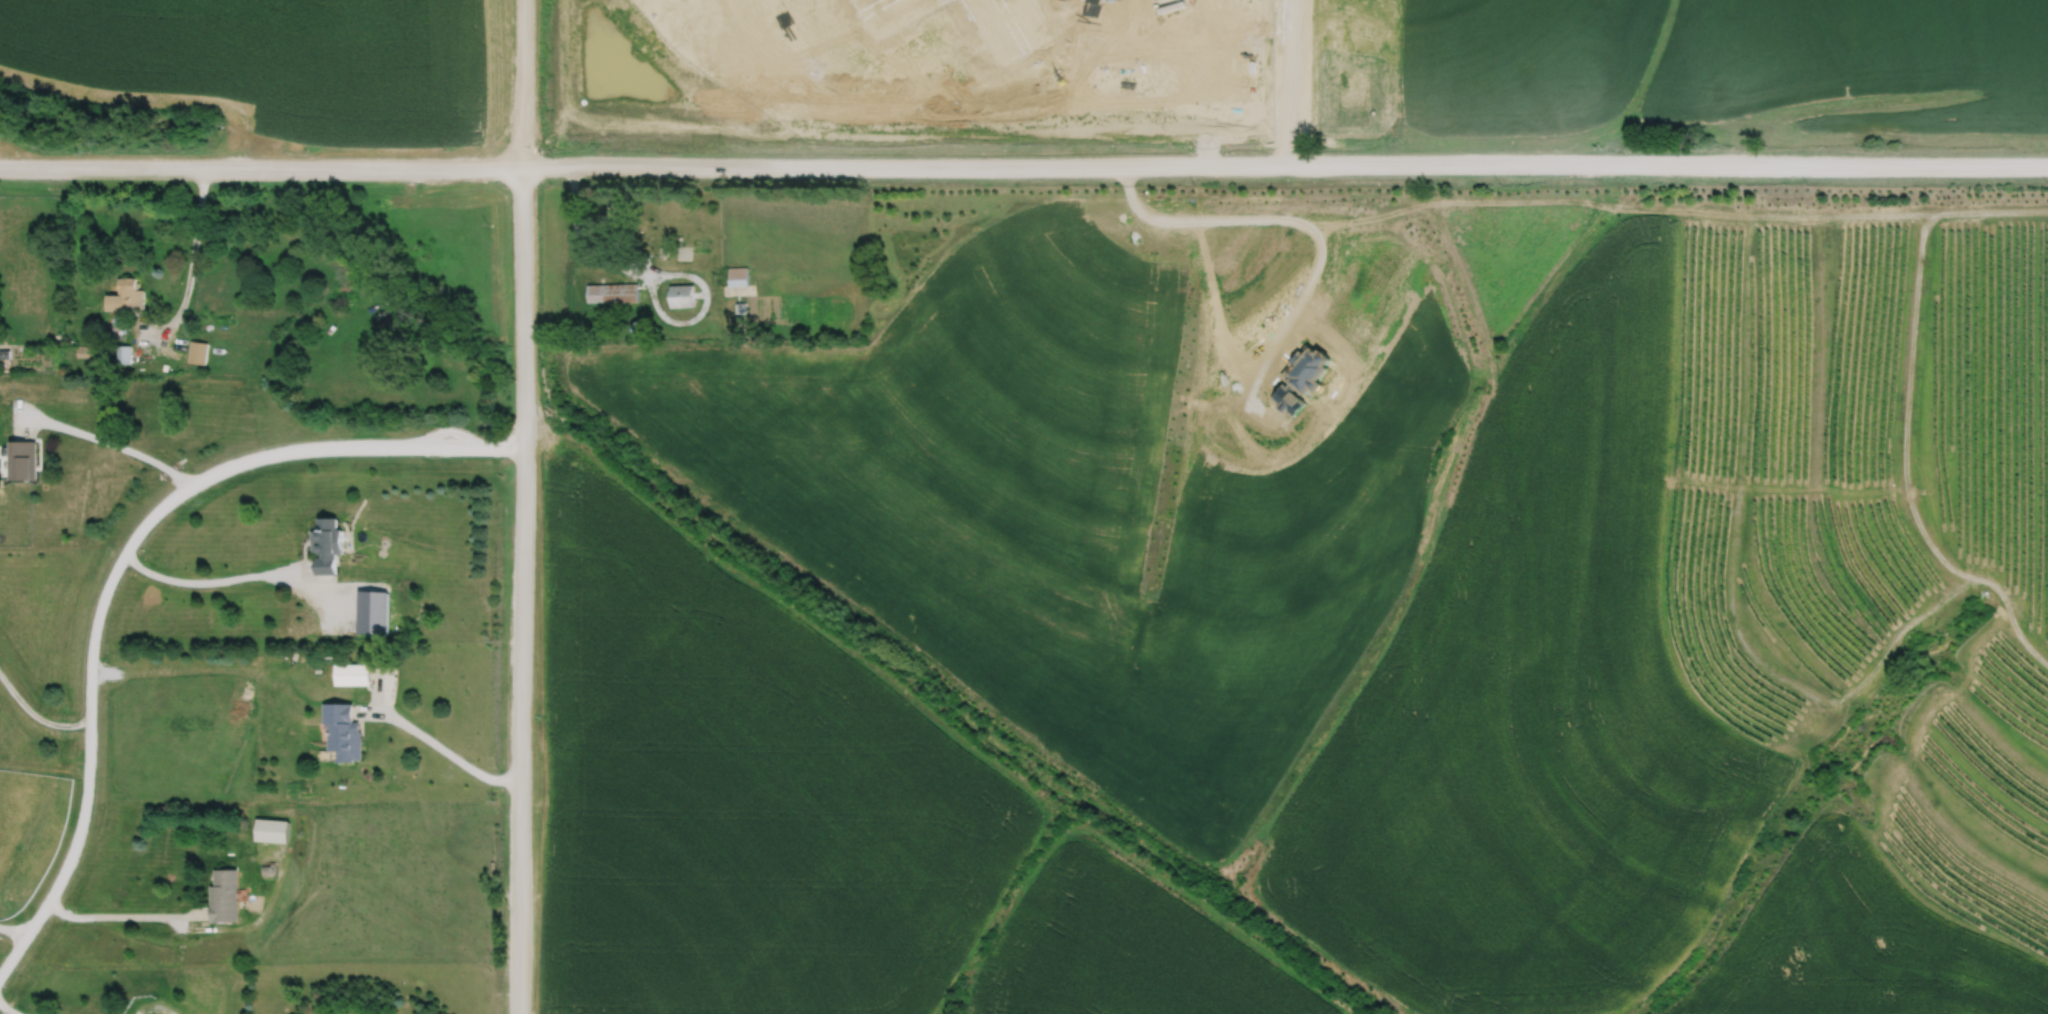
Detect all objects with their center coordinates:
road: (1189, 6)
building: (889, 9)
road: (1287, 21)
building: (1007, 22)
road: (1111, 53)
crop: (275, 63)
crop: (1726, 64)
road: (521, 83)
road: (1228, 85)
road: (1287, 103)
road: (960, 164)
road: (1724, 164)
road: (261, 168)
building: (615, 221)
building: (663, 250)
building: (681, 253)
road: (190, 267)
building: (738, 275)
road: (649, 284)
road: (1302, 290)
building: (612, 291)
building: (682, 294)
building: (126, 295)
building: (639, 326)
building: (11, 336)
building: (87, 350)
building: (198, 350)
building: (123, 353)
road: (106, 440)
road: (351, 446)
building: (23, 459)
building: (328, 544)
road: (246, 575)
road: (521, 589)
building: (373, 611)
building: (352, 674)
road: (35, 714)
road: (89, 725)
building: (344, 732)
road: (430, 740)
building: (272, 828)
building: (266, 868)
building: (223, 894)
road: (125, 915)
road: (250, 922)
road: (12, 930)
road: (156, 1004)
road: (9, 1009)

